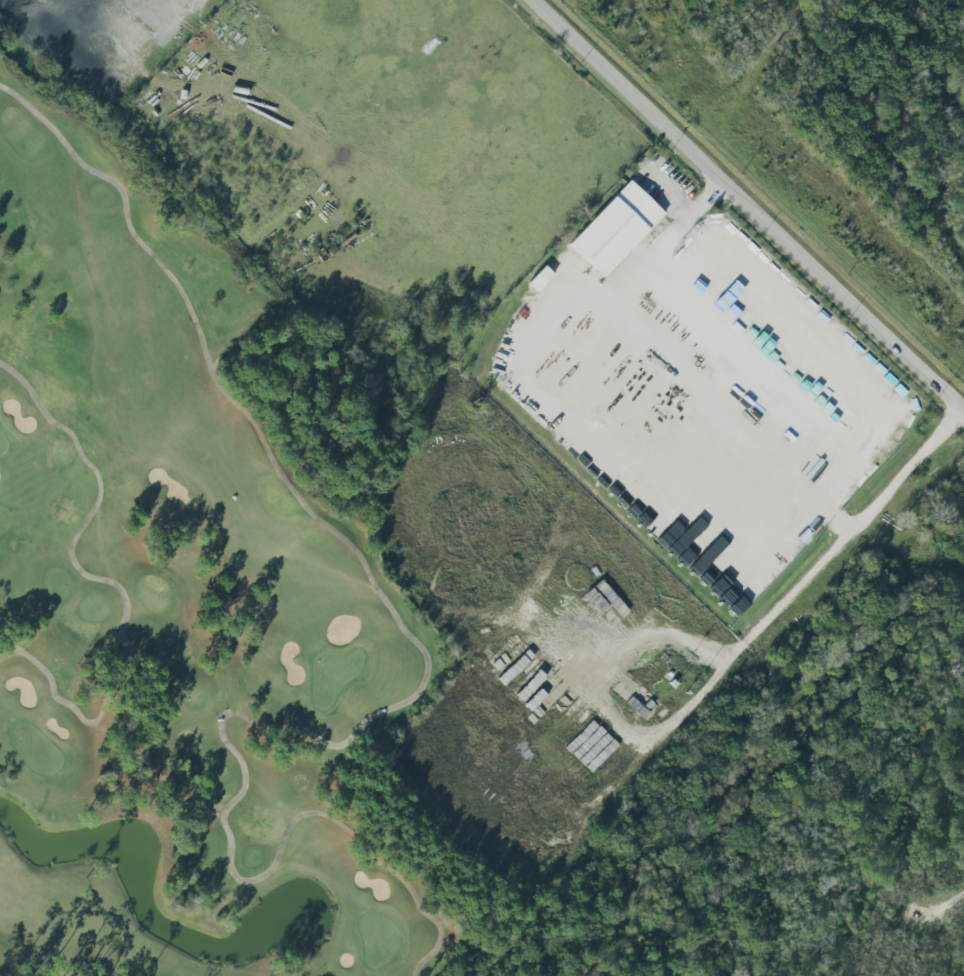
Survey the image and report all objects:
road: (34, 12)
road: (750, 206)
road: (686, 207)
building: (615, 228)
building: (539, 278)
road: (685, 378)
park: (223, 570)
road: (662, 627)
road: (756, 631)
building: (591, 746)

